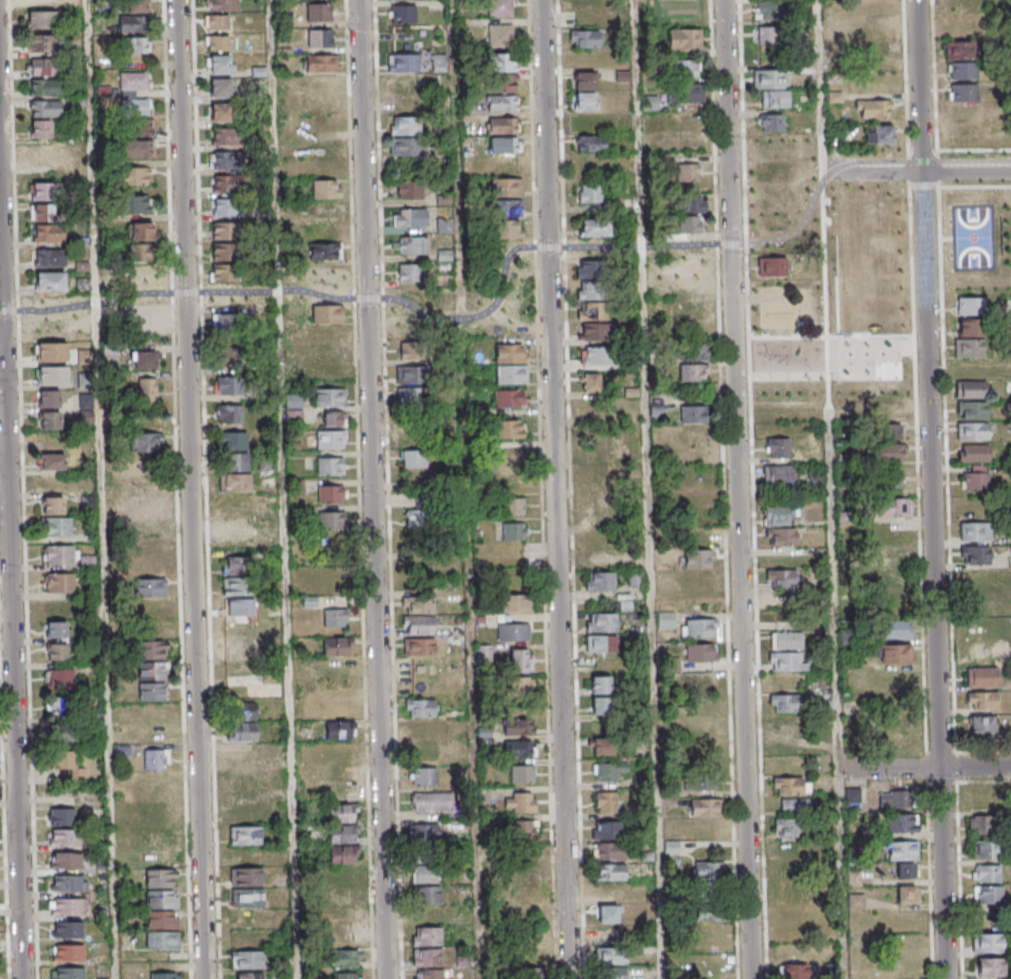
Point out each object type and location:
building: (586, 2)
building: (41, 3)
building: (222, 5)
building: (131, 6)
building: (499, 8)
building: (769, 9)
building: (319, 11)
building: (404, 13)
building: (42, 21)
building: (216, 21)
building: (127, 23)
building: (879, 30)
building: (499, 36)
building: (770, 36)
building: (319, 38)
building: (584, 38)
building: (685, 39)
building: (216, 42)
building: (42, 44)
building: (135, 45)
building: (960, 50)
building: (505, 62)
building: (321, 63)
building: (403, 63)
building: (218, 64)
building: (438, 64)
building: (44, 68)
building: (685, 68)
building: (963, 70)
road: (938, 75)
road: (909, 77)
building: (770, 78)
building: (503, 82)
building: (320, 84)
road: (823, 84)
building: (44, 88)
building: (219, 88)
building: (584, 90)
building: (964, 92)
building: (135, 94)
building: (687, 94)
building: (775, 98)
building: (502, 103)
building: (399, 104)
building: (873, 107)
building: (45, 108)
building: (220, 112)
building: (962, 113)
building: (771, 122)
building: (406, 125)
building: (503, 125)
building: (41, 128)
building: (137, 129)
building: (879, 134)
building: (224, 136)
building: (590, 143)
building: (505, 144)
building: (325, 147)
building: (405, 147)
building: (45, 150)
building: (136, 150)
road: (976, 150)
road: (926, 152)
building: (221, 160)
road: (941, 168)
road: (919, 169)
road: (913, 170)
building: (688, 172)
building: (134, 177)
building: (227, 183)
road: (927, 186)
road: (976, 186)
building: (507, 187)
building: (326, 188)
building: (409, 189)
building: (41, 192)
building: (590, 193)
building: (767, 197)
building: (135, 204)
building: (691, 204)
building: (226, 207)
building: (507, 208)
building: (42, 214)
building: (410, 217)
building: (443, 225)
building: (689, 225)
building: (594, 227)
building: (508, 229)
building: (139, 231)
building: (223, 231)
building: (49, 234)
building: (324, 243)
building: (885, 244)
building: (410, 245)
building: (223, 252)
building: (49, 258)
building: (772, 266)
building: (690, 268)
building: (590, 269)
building: (403, 272)
building: (222, 273)
building: (140, 274)
building: (50, 282)
building: (590, 290)
building: (223, 293)
building: (326, 293)
building: (969, 306)
building: (142, 318)
building: (593, 321)
building: (225, 323)
building: (51, 328)
building: (969, 328)
building: (412, 349)
building: (969, 349)
building: (693, 351)
building: (50, 352)
building: (227, 354)
building: (510, 354)
building: (597, 355)
building: (144, 359)
building: (776, 370)
building: (693, 373)
building: (412, 374)
building: (511, 374)
building: (52, 375)
building: (591, 383)
building: (227, 386)
building: (971, 388)
building: (891, 390)
building: (146, 391)
building: (776, 391)
building: (411, 395)
building: (330, 397)
building: (508, 398)
building: (49, 399)
building: (293, 408)
building: (971, 410)
building: (585, 413)
building: (693, 413)
building: (229, 414)
building: (333, 419)
building: (890, 421)
building: (507, 428)
building: (972, 431)
building: (412, 438)
building: (330, 439)
building: (233, 440)
building: (144, 443)
building: (778, 447)
building: (888, 452)
building: (974, 452)
building: (413, 458)
building: (509, 458)
building: (52, 462)
building: (235, 462)
building: (330, 465)
building: (778, 474)
building: (975, 477)
building: (887, 479)
building: (234, 483)
building: (52, 484)
road: (105, 489)
road: (189, 489)
road: (285, 489)
road: (375, 489)
road: (473, 489)
road: (554, 489)
road: (651, 489)
road: (740, 489)
road: (933, 489)
building: (330, 493)
road: (920, 499)
building: (52, 506)
building: (513, 506)
building: (891, 507)
road: (949, 510)
building: (776, 516)
building: (605, 517)
road: (13, 518)
building: (416, 518)
building: (331, 520)
building: (58, 528)
building: (975, 530)
building: (237, 531)
building: (513, 531)
building: (781, 536)
building: (976, 554)
building: (58, 556)
building: (699, 557)
building: (893, 559)
building: (599, 560)
building: (335, 565)
building: (234, 574)
road: (836, 574)
building: (149, 577)
building: (781, 577)
building: (699, 578)
building: (635, 579)
building: (599, 581)
building: (59, 584)
building: (519, 603)
building: (240, 607)
building: (983, 611)
building: (417, 616)
building: (335, 617)
building: (665, 620)
building: (601, 622)
building: (239, 627)
building: (699, 627)
building: (897, 629)
building: (57, 631)
building: (513, 631)
building: (786, 640)
building: (601, 643)
building: (336, 646)
building: (418, 646)
building: (238, 648)
building: (152, 649)
building: (701, 652)
building: (57, 653)
building: (894, 653)
building: (520, 660)
building: (787, 661)
building: (982, 677)
building: (59, 679)
building: (152, 681)
building: (600, 684)
building: (520, 688)
building: (242, 689)
building: (982, 700)
building: (784, 702)
building: (599, 705)
building: (55, 707)
building: (419, 707)
building: (242, 722)
building: (518, 726)
building: (699, 726)
building: (981, 726)
building: (340, 729)
building: (897, 730)
building: (602, 746)
building: (519, 749)
road: (968, 750)
building: (237, 752)
building: (64, 760)
building: (156, 760)
road: (926, 769)
building: (608, 770)
building: (522, 774)
building: (424, 776)
building: (640, 783)
building: (791, 785)
building: (852, 796)
building: (890, 799)
building: (520, 802)
building: (606, 802)
building: (428, 803)
building: (794, 806)
building: (705, 807)
building: (342, 812)
building: (148, 815)
building: (61, 816)
building: (902, 822)
building: (981, 824)
building: (606, 829)
building: (522, 831)
building: (423, 833)
building: (342, 834)
building: (245, 835)
building: (789, 838)
building: (69, 839)
building: (671, 848)
building: (985, 849)
building: (608, 850)
building: (904, 850)
building: (342, 854)
building: (69, 862)
building: (704, 870)
building: (907, 870)
building: (610, 872)
building: (988, 872)
building: (426, 874)
building: (245, 876)
road: (958, 879)
road: (928, 880)
building: (70, 886)
building: (907, 894)
building: (988, 894)
building: (427, 896)
building: (345, 897)
building: (246, 898)
building: (71, 909)
building: (607, 914)
building: (710, 914)
building: (162, 920)
building: (72, 932)
building: (426, 936)
building: (162, 940)
building: (987, 942)
building: (72, 955)
building: (426, 957)
building: (346, 958)
building: (247, 959)
building: (611, 963)
building: (529, 965)
building: (990, 966)
building: (794, 971)
building: (73, 974)
building: (427, 974)
building: (165, 975)
building: (249, 975)
building: (347, 975)

